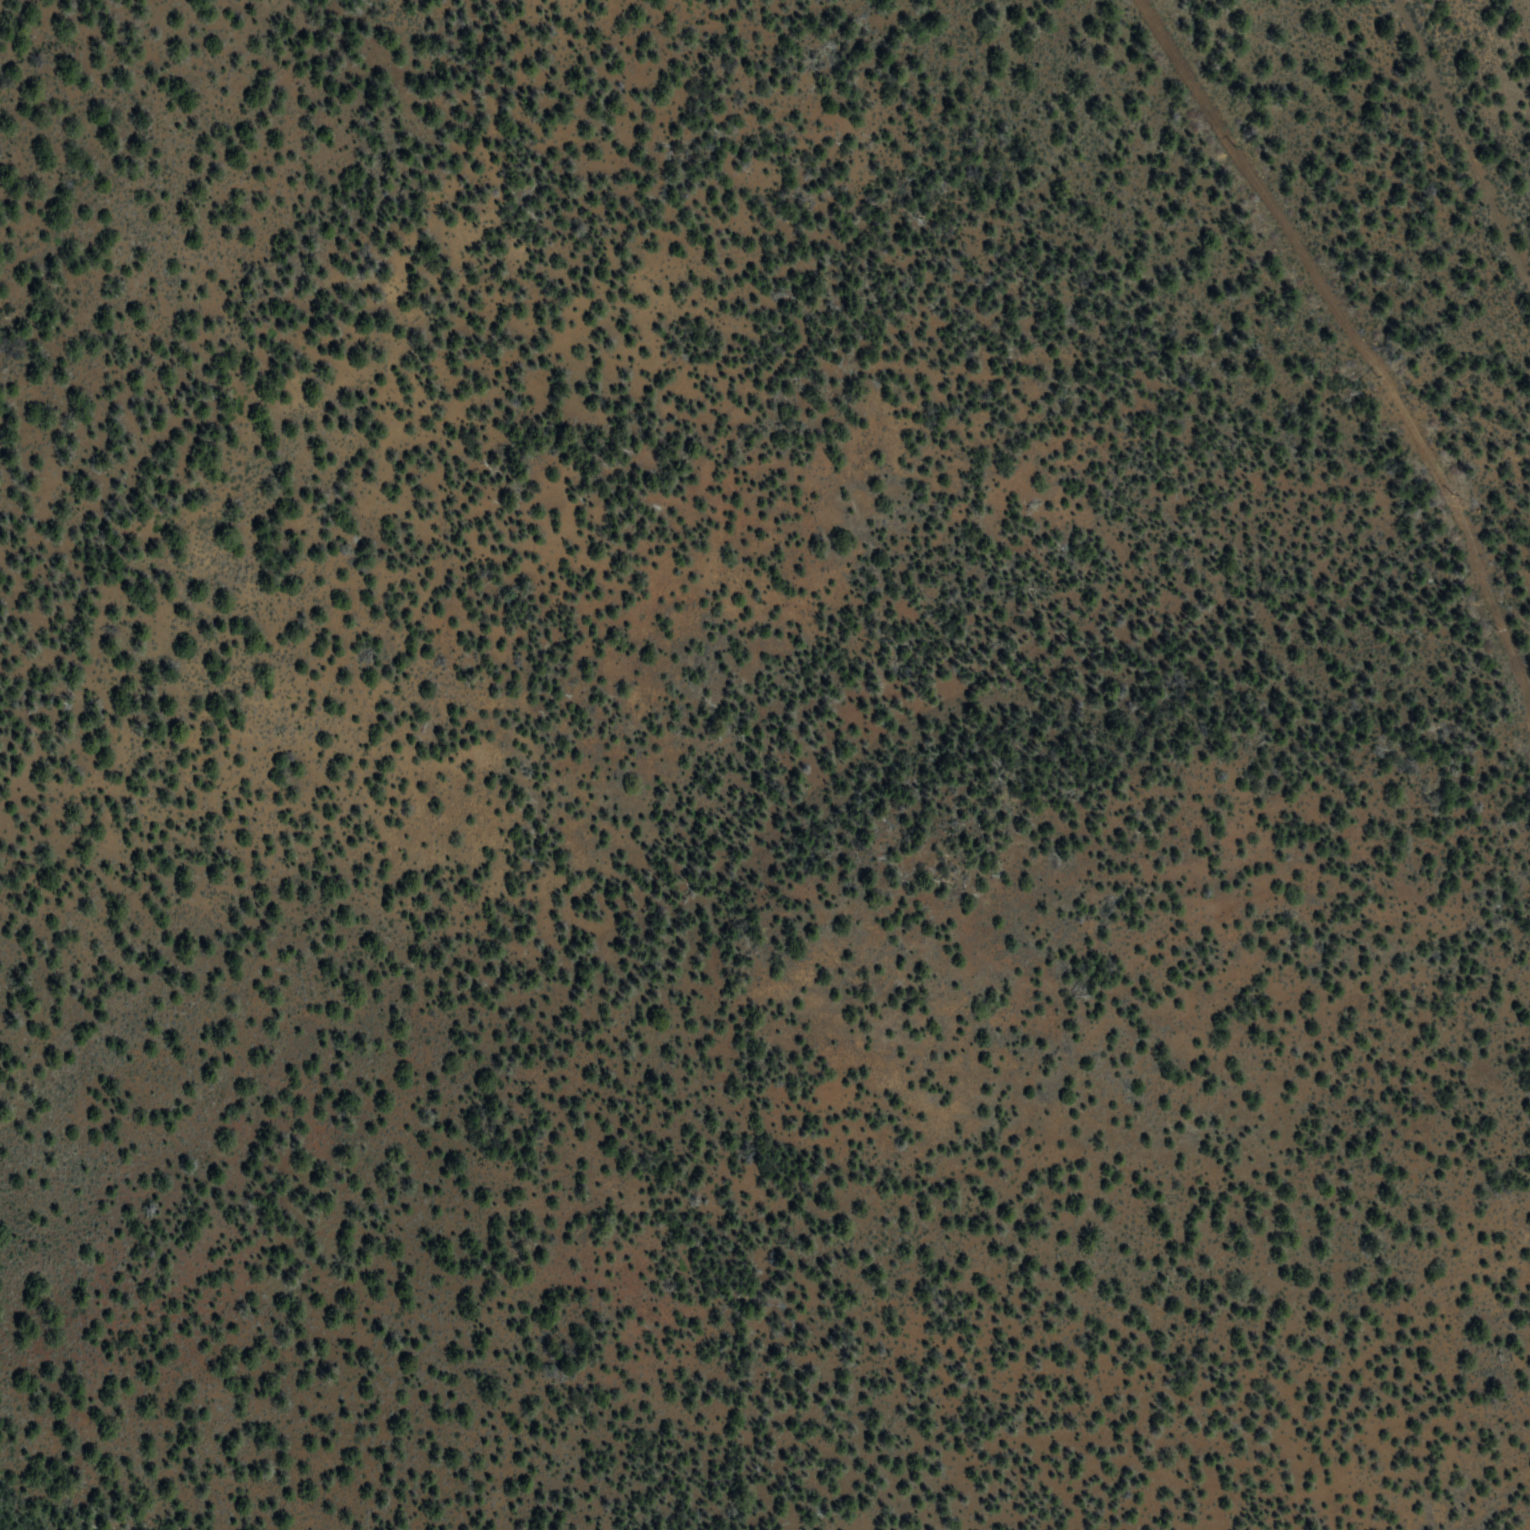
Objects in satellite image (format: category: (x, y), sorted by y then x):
road: (1463, 140)

